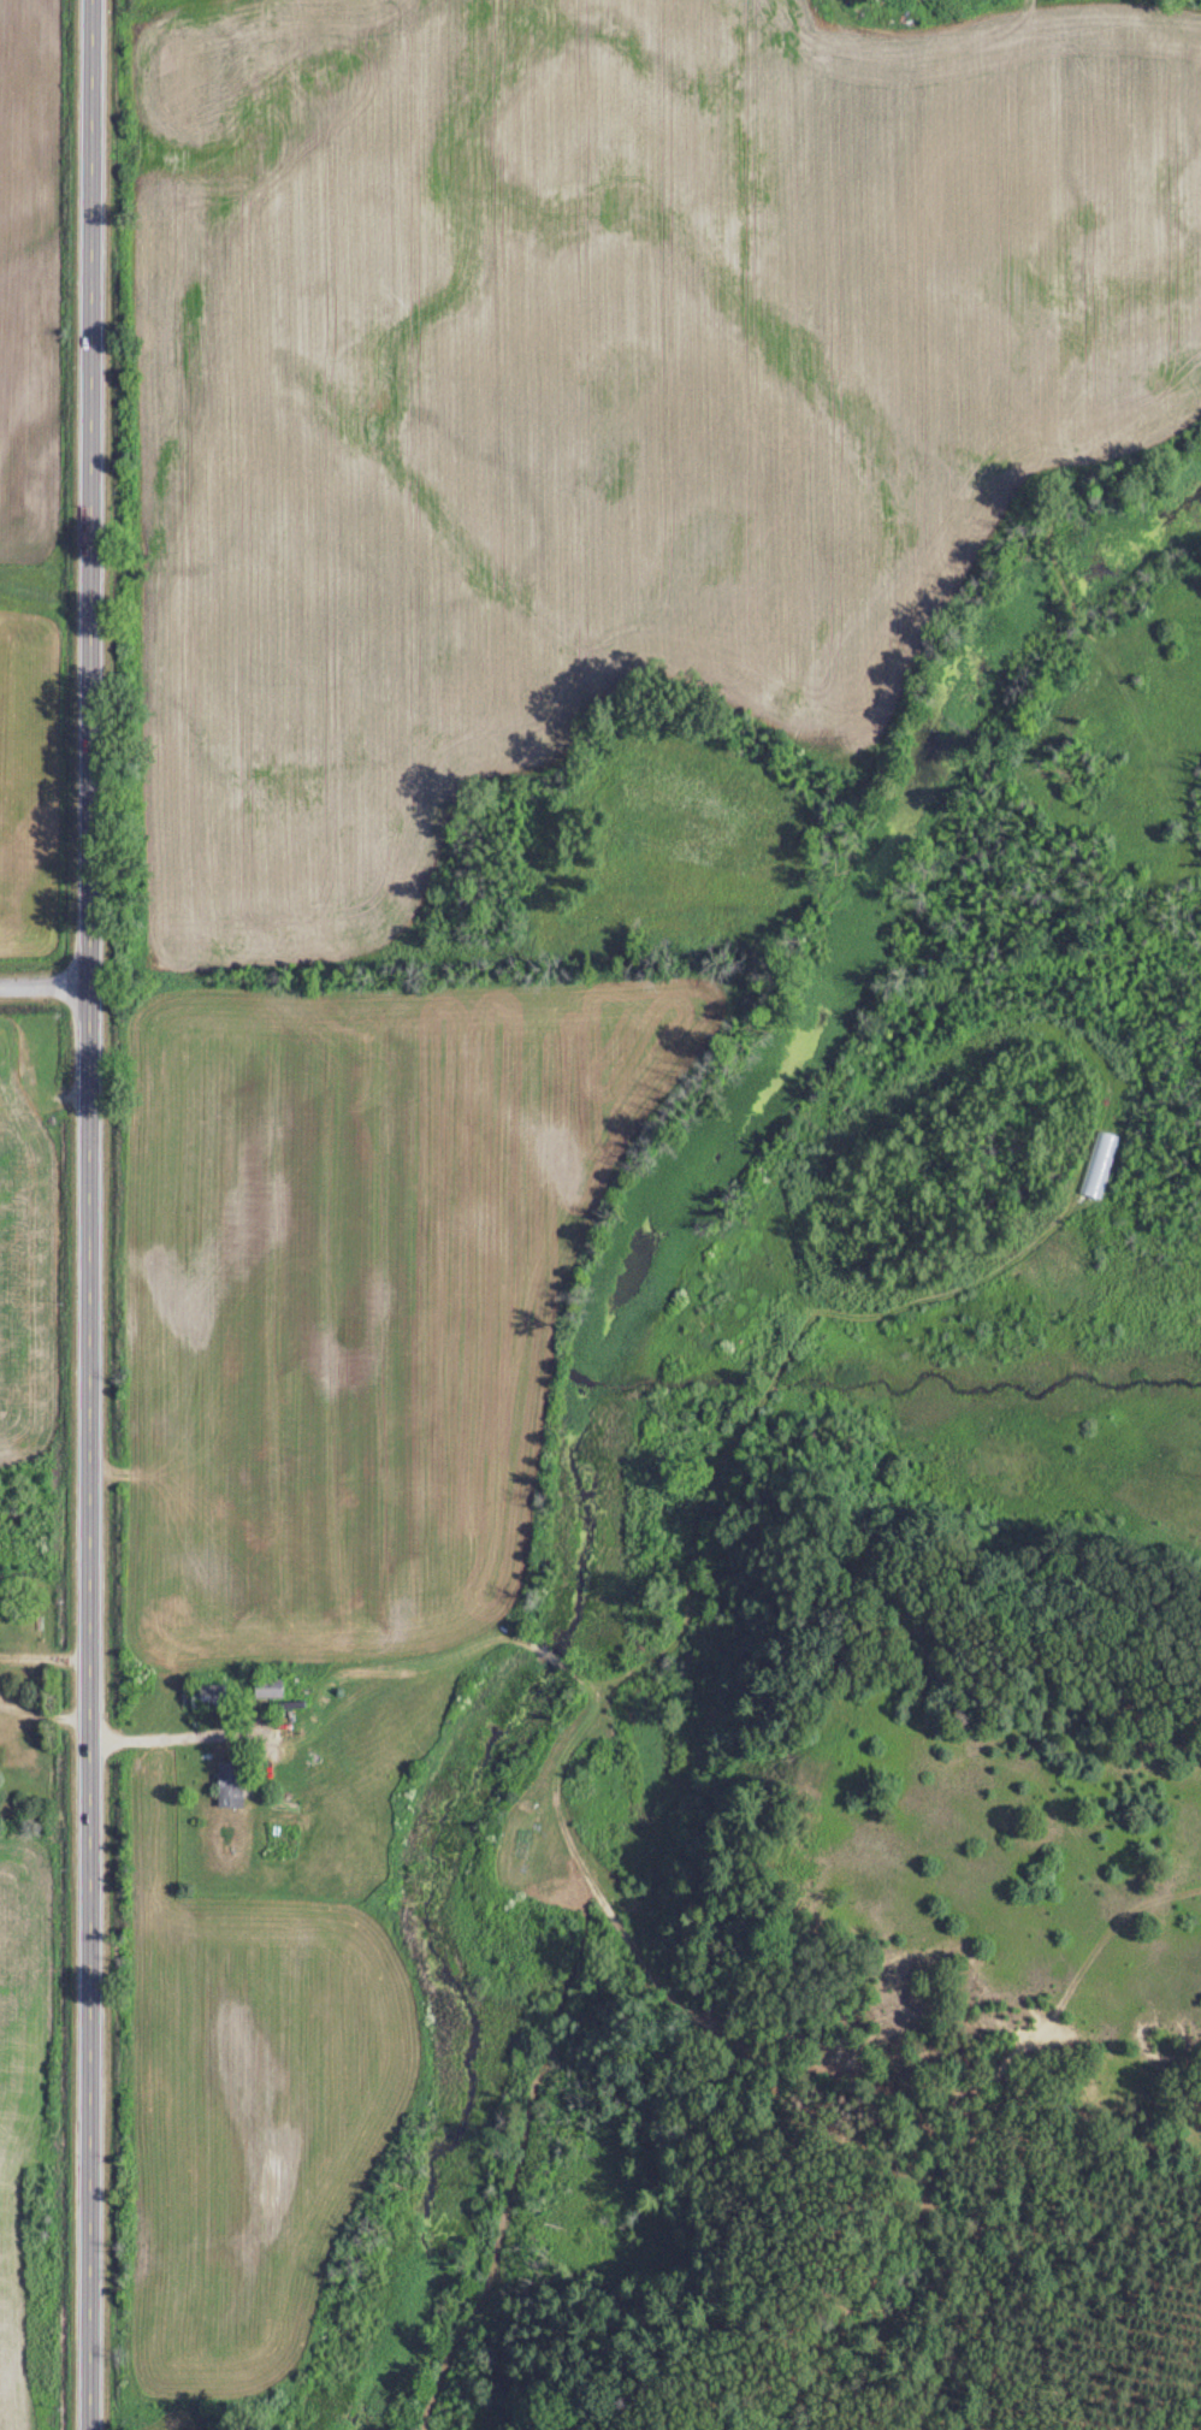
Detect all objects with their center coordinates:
road: (46, 987)
road: (89, 1214)
road: (45, 1654)
building: (272, 1686)
building: (213, 1695)
road: (46, 1711)
road: (155, 1734)
building: (235, 1784)

